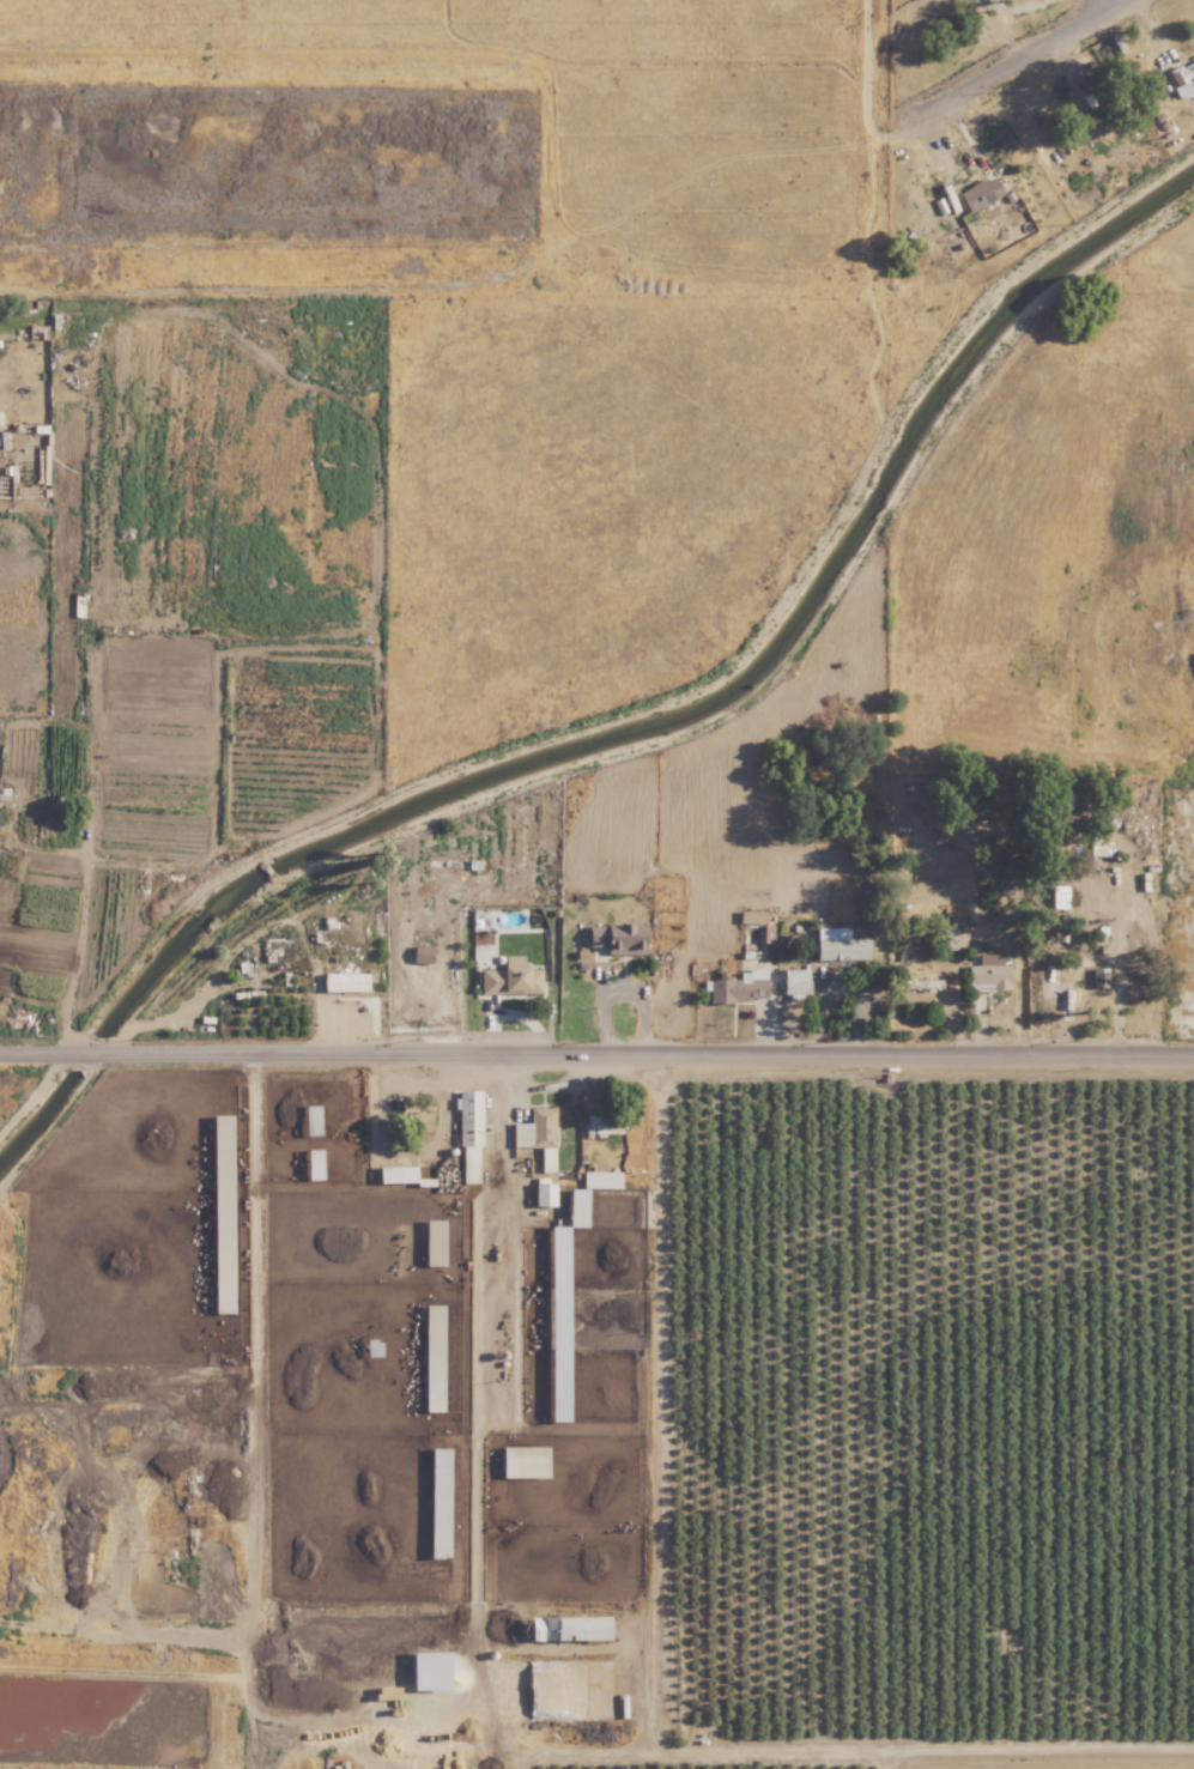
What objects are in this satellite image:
road: (1102, 8)
road: (889, 65)
building: (1182, 77)
crop: (578, 89)
building: (1086, 128)
road: (853, 143)
building: (978, 193)
crop: (1135, 216)
road: (219, 287)
building: (748, 916)
building: (765, 933)
building: (616, 937)
building: (948, 937)
building: (838, 944)
building: (987, 976)
building: (509, 977)
building: (793, 981)
building: (344, 982)
building: (738, 986)
road: (596, 1053)
road: (455, 1083)
building: (308, 1120)
building: (420, 1120)
building: (602, 1123)
building: (468, 1135)
building: (537, 1135)
building: (310, 1164)
building: (394, 1174)
building: (541, 1194)
building: (574, 1207)
building: (431, 1242)
building: (431, 1323)
building: (431, 1406)
building: (556, 1417)
building: (522, 1461)
building: (562, 1626)
building: (426, 1668)

